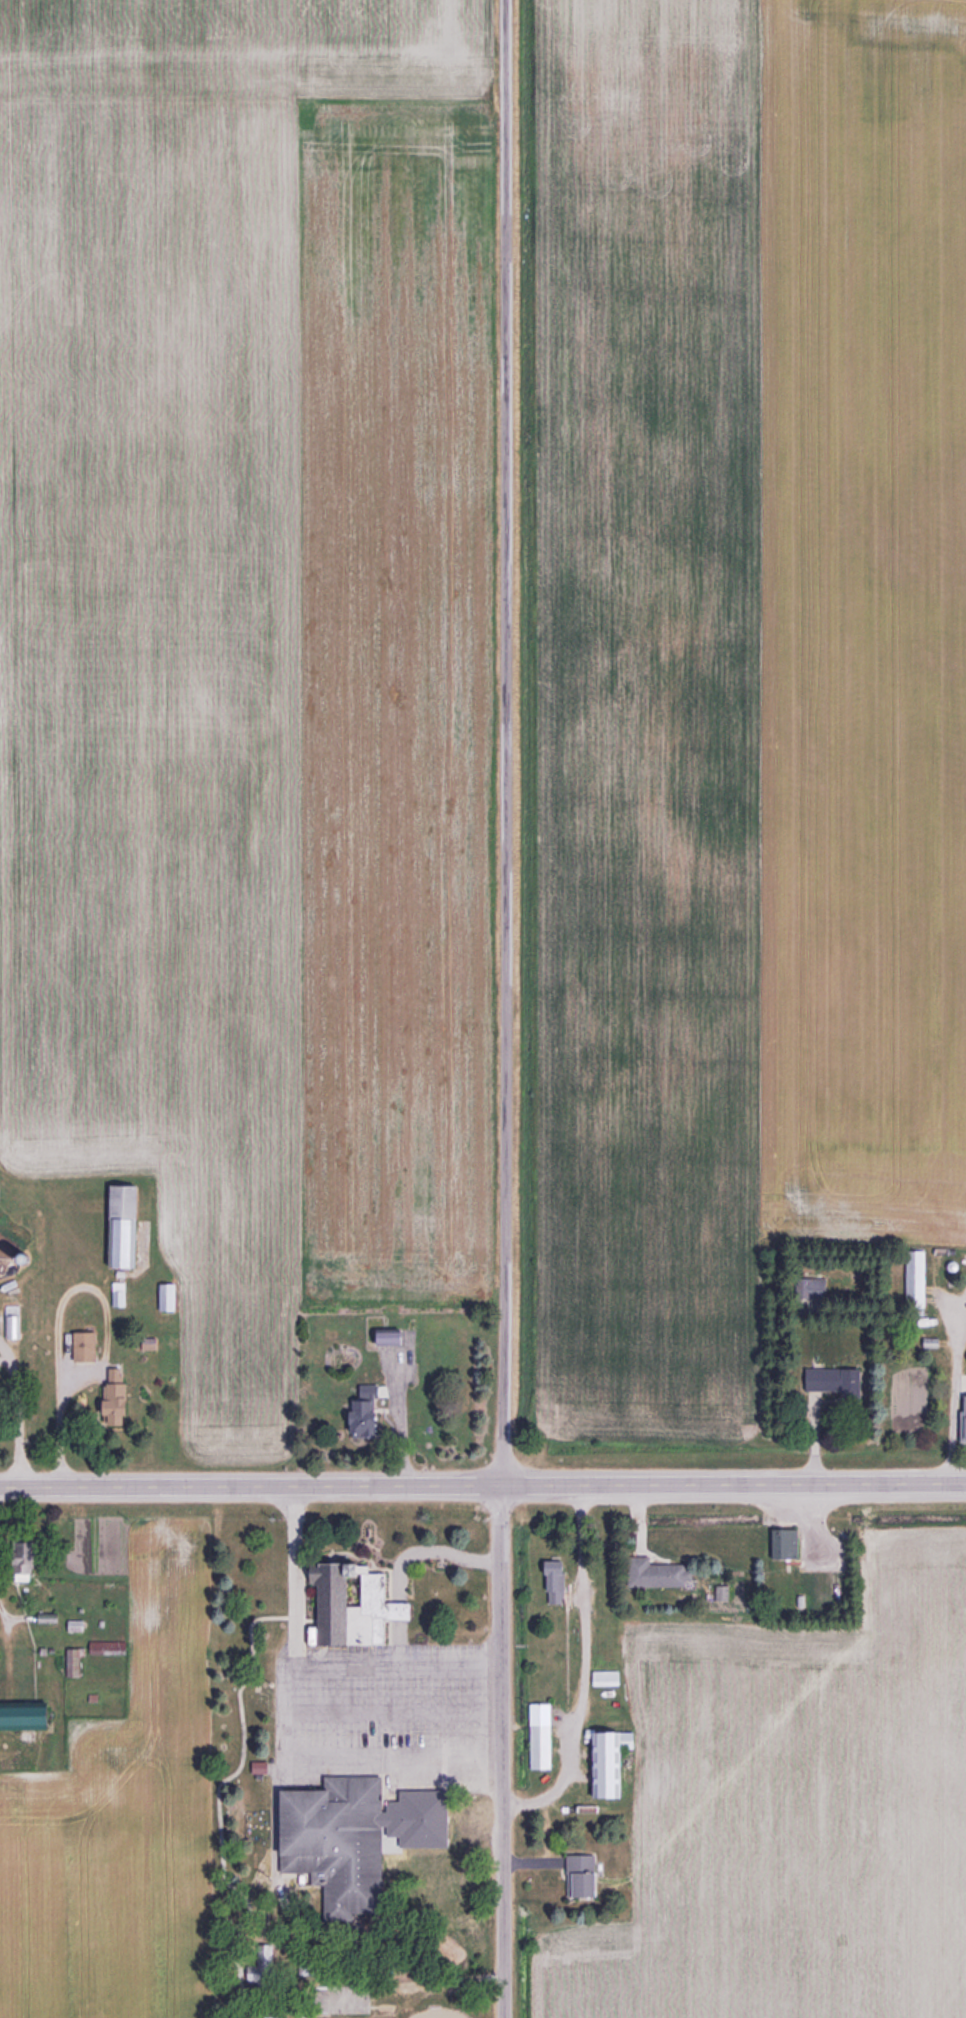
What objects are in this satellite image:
road: (506, 742)
building: (128, 1225)
building: (913, 1278)
building: (120, 1294)
building: (171, 1296)
building: (14, 1325)
building: (394, 1337)
building: (90, 1346)
building: (829, 1385)
road: (948, 1394)
building: (117, 1402)
building: (960, 1419)
building: (371, 1428)
road: (482, 1484)
building: (781, 1543)
road: (434, 1550)
road: (289, 1556)
building: (663, 1574)
building: (559, 1582)
building: (355, 1605)
building: (77, 1663)
road: (279, 1713)
building: (31, 1716)
building: (543, 1736)
road: (504, 1751)
building: (617, 1763)
building: (261, 1767)
building: (330, 1824)
building: (585, 1876)
building: (280, 2017)

